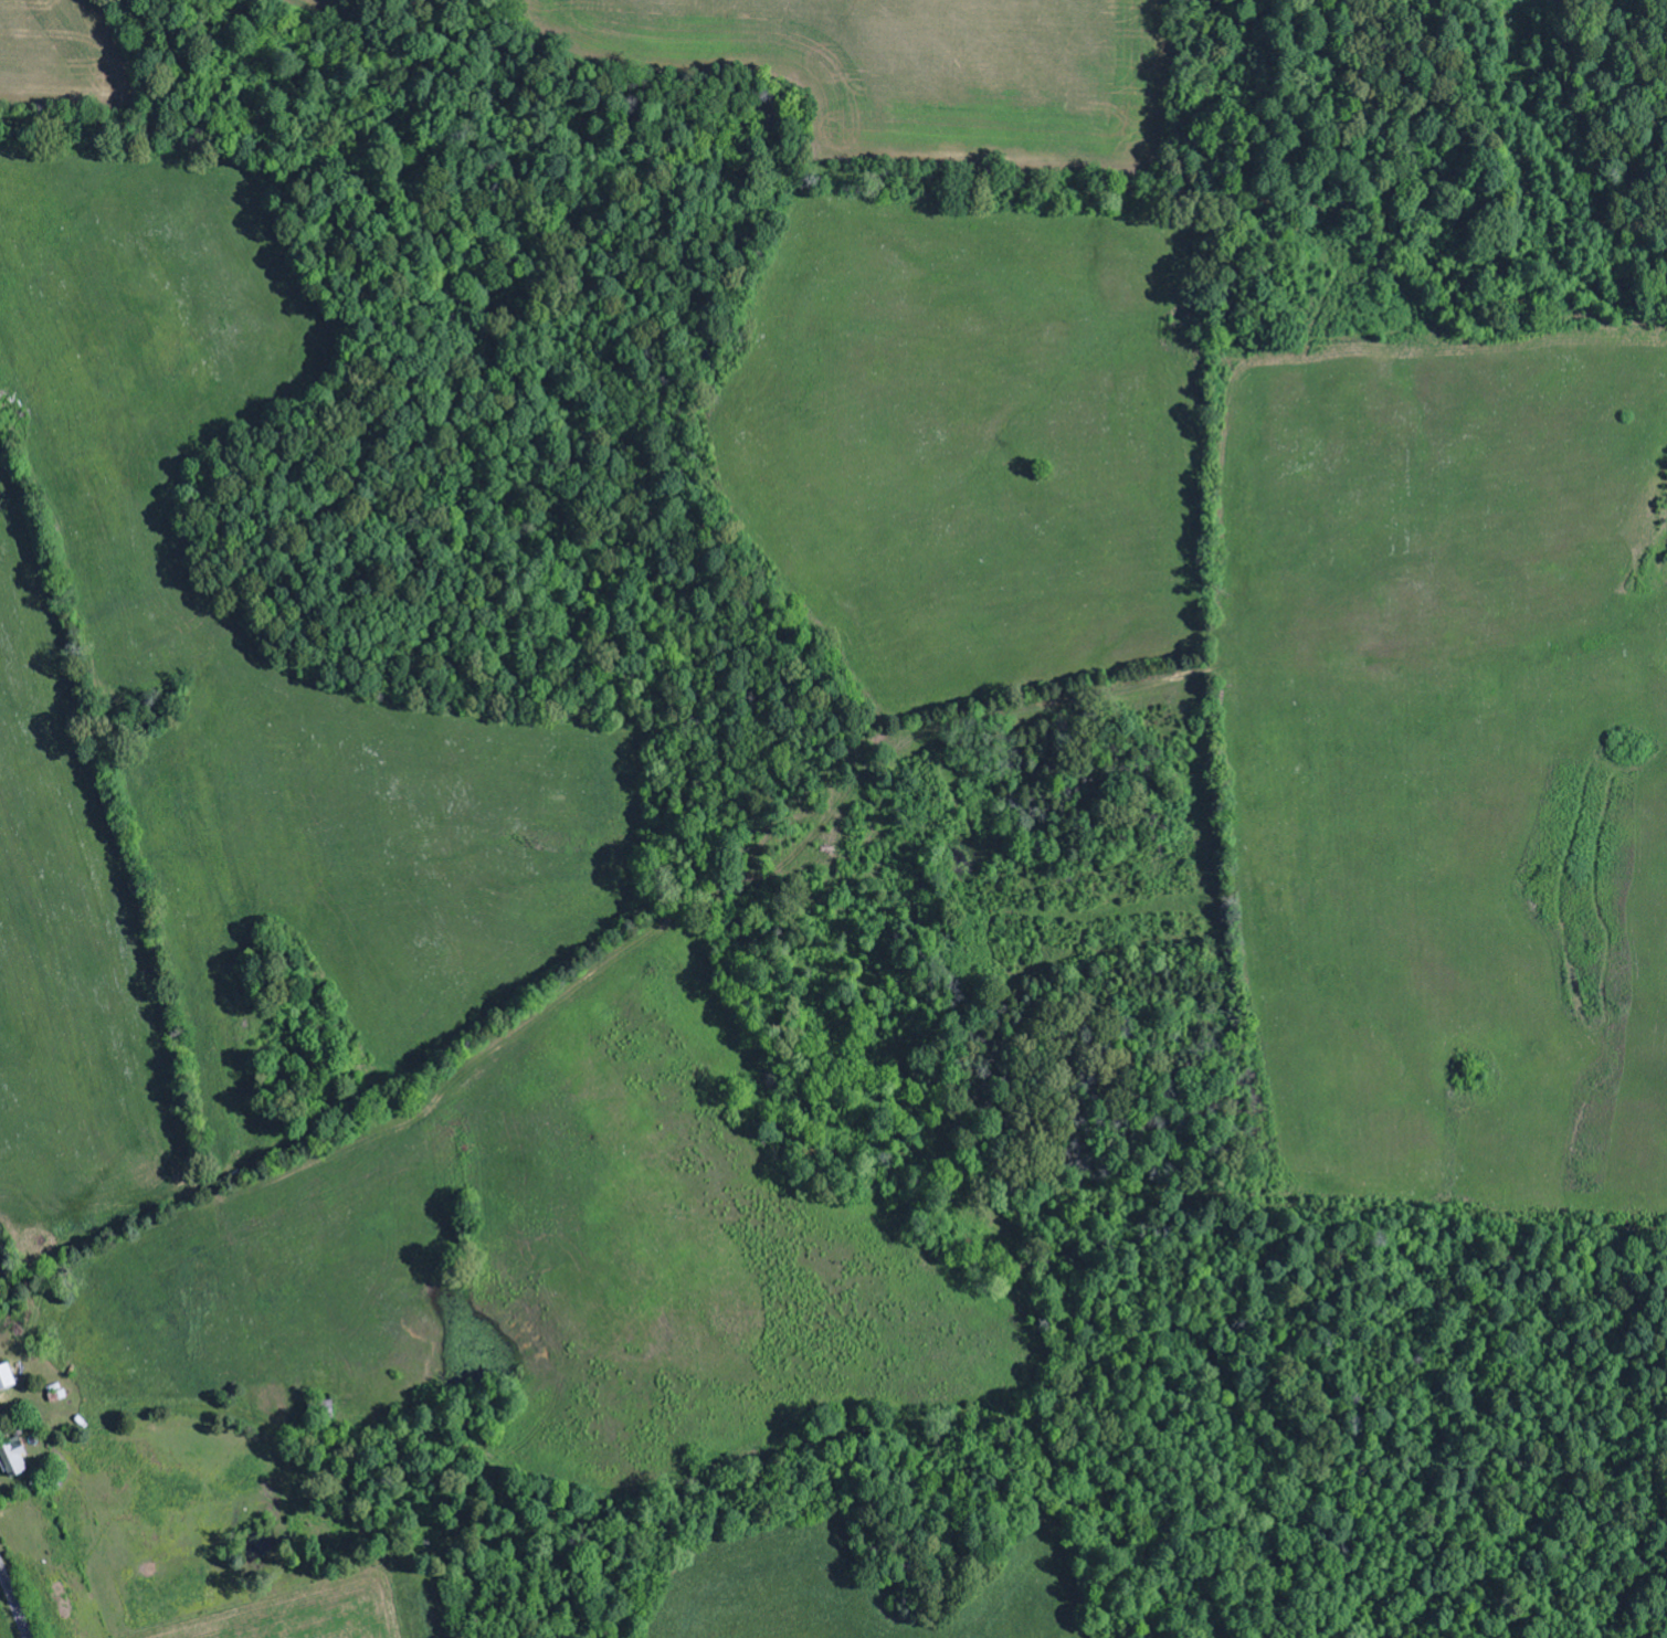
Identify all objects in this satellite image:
building: (8, 1380)
building: (18, 1462)
road: (14, 1602)

